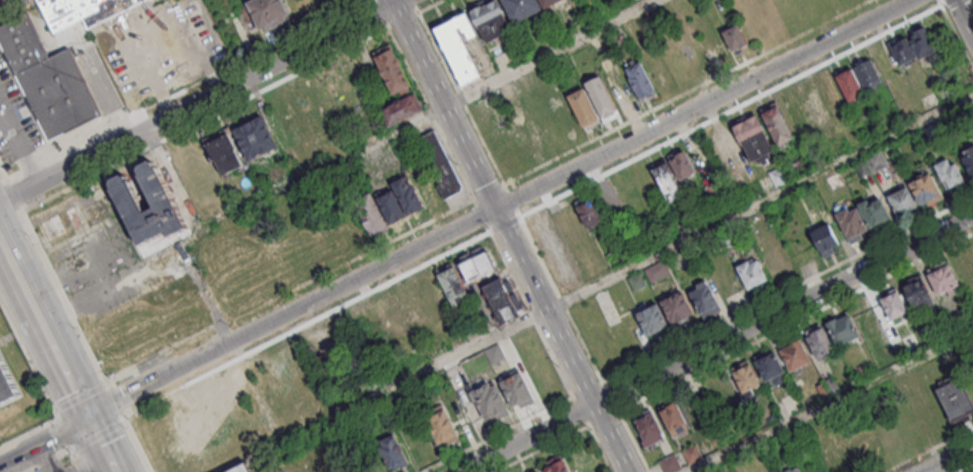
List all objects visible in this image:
building: (547, 3)
road: (429, 5)
building: (521, 8)
parking lot: (14, 9)
building: (80, 11)
building: (270, 16)
road: (965, 16)
building: (490, 19)
building: (734, 36)
building: (923, 41)
building: (458, 45)
parking lot: (170, 48)
building: (902, 51)
building: (391, 68)
building: (866, 72)
road: (124, 80)
building: (640, 80)
building: (49, 83)
building: (848, 83)
road: (187, 90)
road: (687, 92)
building: (601, 97)
road: (461, 98)
road: (202, 102)
building: (812, 104)
building: (322, 105)
building: (583, 106)
building: (400, 109)
road: (431, 114)
road: (205, 119)
parking lot: (14, 120)
building: (777, 125)
building: (753, 136)
building: (255, 138)
road: (376, 140)
building: (224, 152)
building: (968, 155)
building: (876, 160)
building: (681, 163)
building: (439, 164)
building: (861, 168)
building: (949, 172)
road: (3, 174)
building: (833, 180)
building: (667, 181)
building: (926, 189)
building: (407, 195)
road: (14, 196)
building: (128, 200)
building: (902, 203)
building: (391, 206)
road: (494, 208)
building: (874, 212)
building: (370, 213)
building: (590, 213)
building: (60, 223)
building: (851, 223)
road: (507, 236)
building: (823, 239)
road: (531, 242)
building: (476, 264)
parking lot: (99, 267)
building: (750, 272)
road: (18, 274)
building: (944, 279)
building: (451, 283)
building: (916, 291)
road: (291, 292)
road: (64, 297)
building: (704, 298)
building: (501, 299)
building: (893, 305)
building: (676, 307)
building: (417, 309)
road: (530, 315)
building: (650, 319)
road: (794, 319)
road: (307, 324)
road: (43, 325)
building: (842, 329)
road: (715, 343)
building: (819, 343)
building: (323, 347)
road: (462, 351)
building: (794, 355)
road: (28, 360)
building: (771, 367)
building: (746, 377)
road: (68, 379)
building: (7, 383)
building: (517, 389)
road: (79, 396)
building: (953, 398)
building: (490, 399)
road: (116, 400)
road: (829, 400)
traffic signals: (88, 417)
building: (674, 417)
building: (440, 424)
building: (203, 426)
building: (649, 430)
road: (28, 432)
road: (98, 434)
road: (498, 435)
road: (56, 437)
road: (565, 437)
building: (416, 440)
road: (632, 440)
road: (44, 441)
road: (101, 444)
road: (138, 445)
road: (929, 449)
building: (393, 451)
building: (691, 454)
road: (946, 458)
road: (47, 460)
road: (77, 460)
building: (670, 463)
building: (556, 466)
road: (965, 468)
building: (242, 469)
building: (790, 470)
building: (536, 471)

